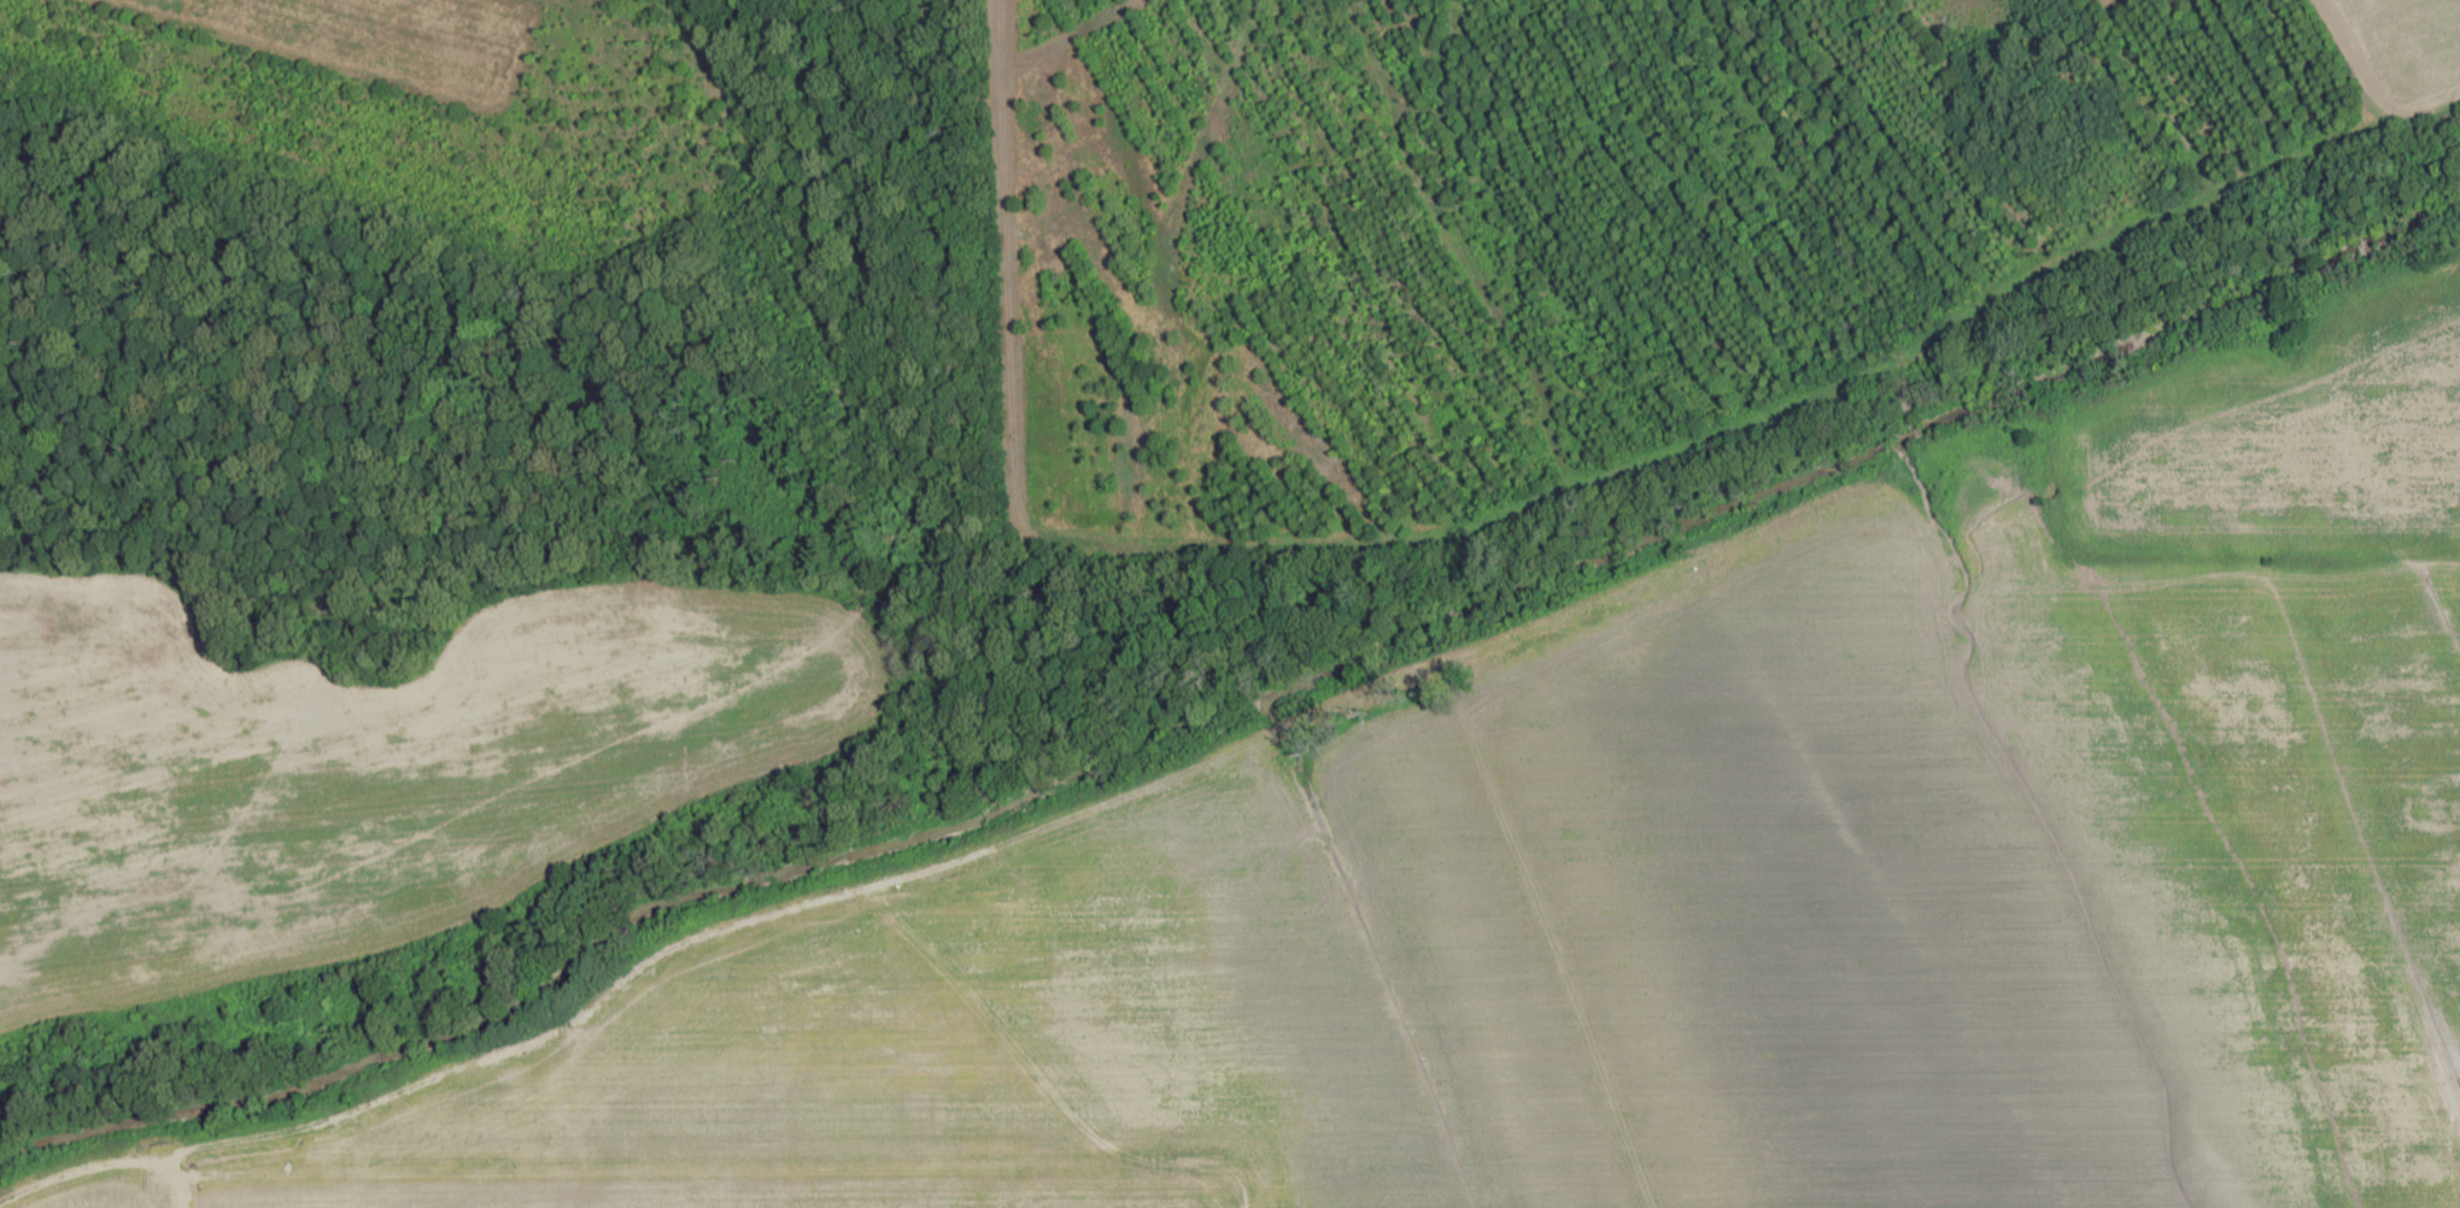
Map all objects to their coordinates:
road: (2373, 93)
road: (990, 265)

